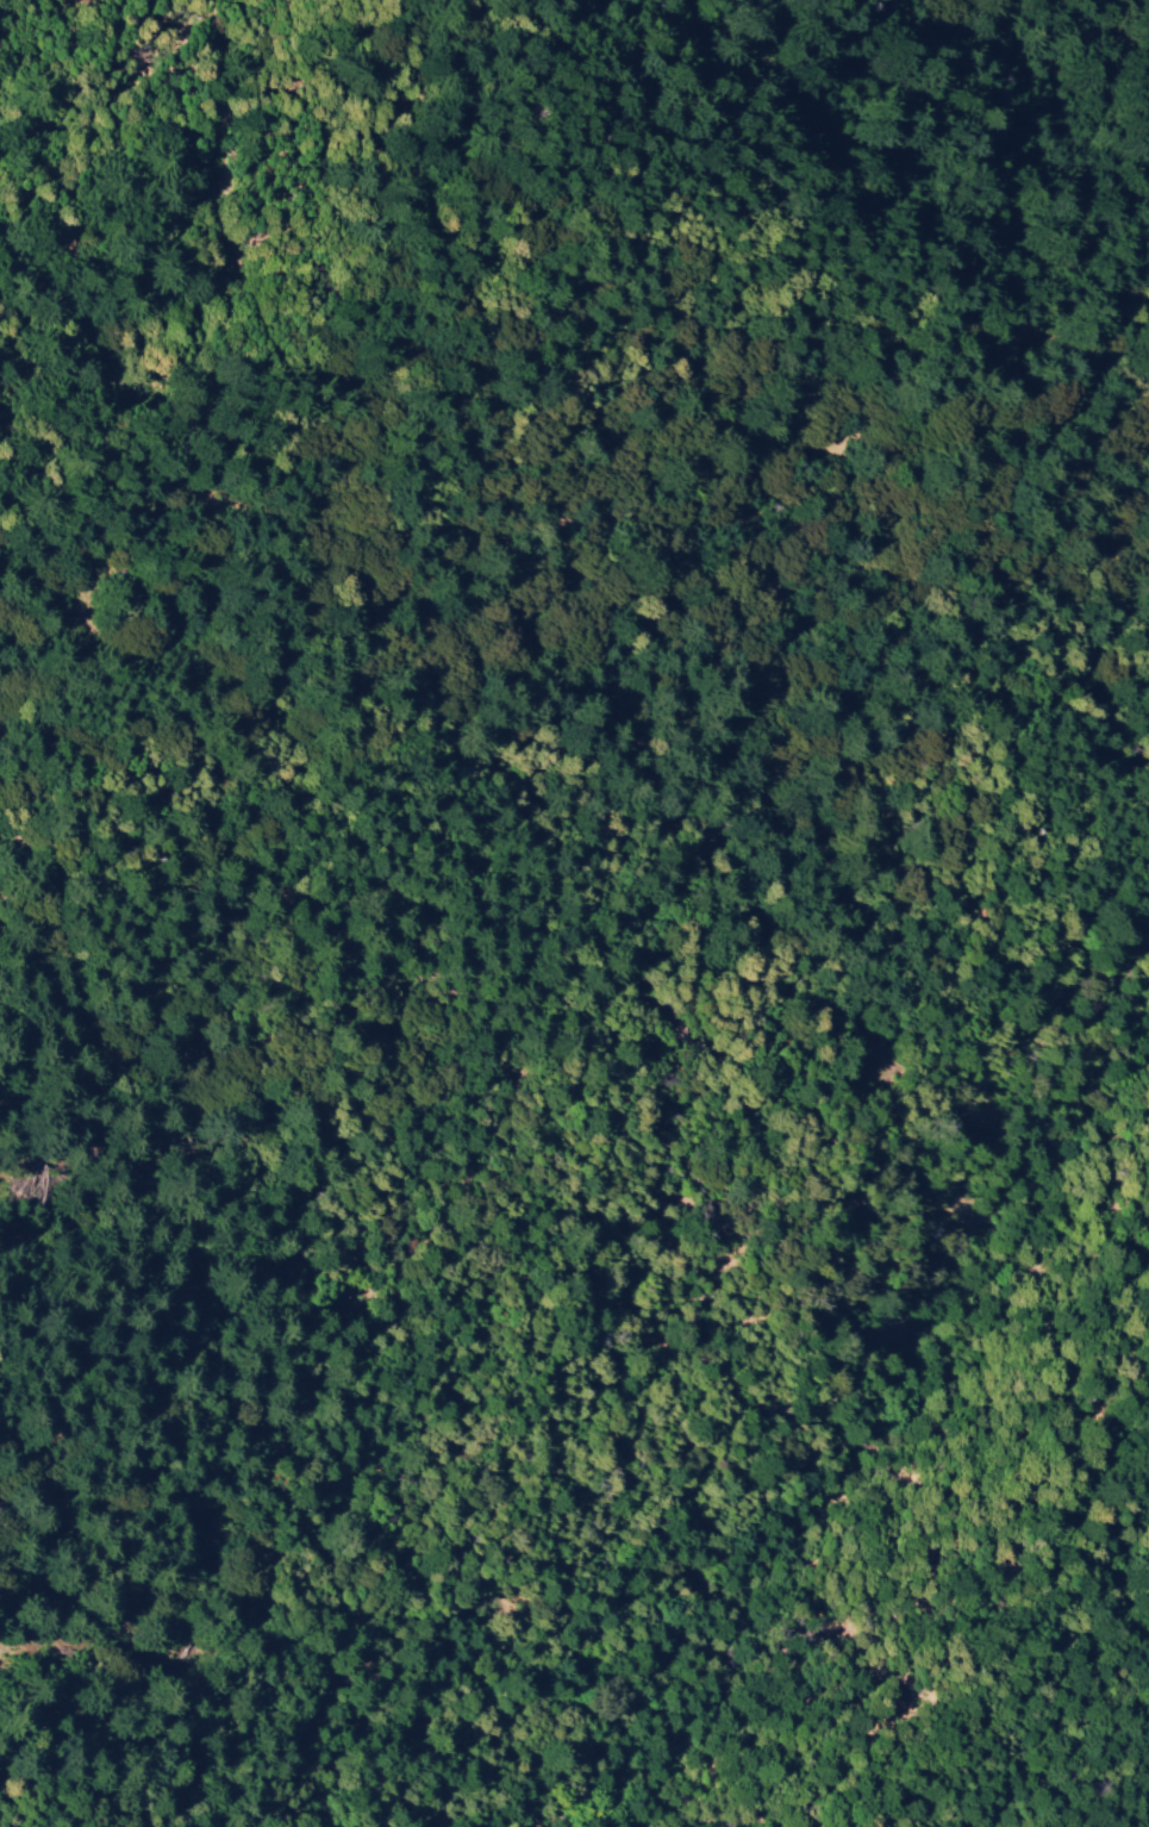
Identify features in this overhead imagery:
road: (416, 551)

